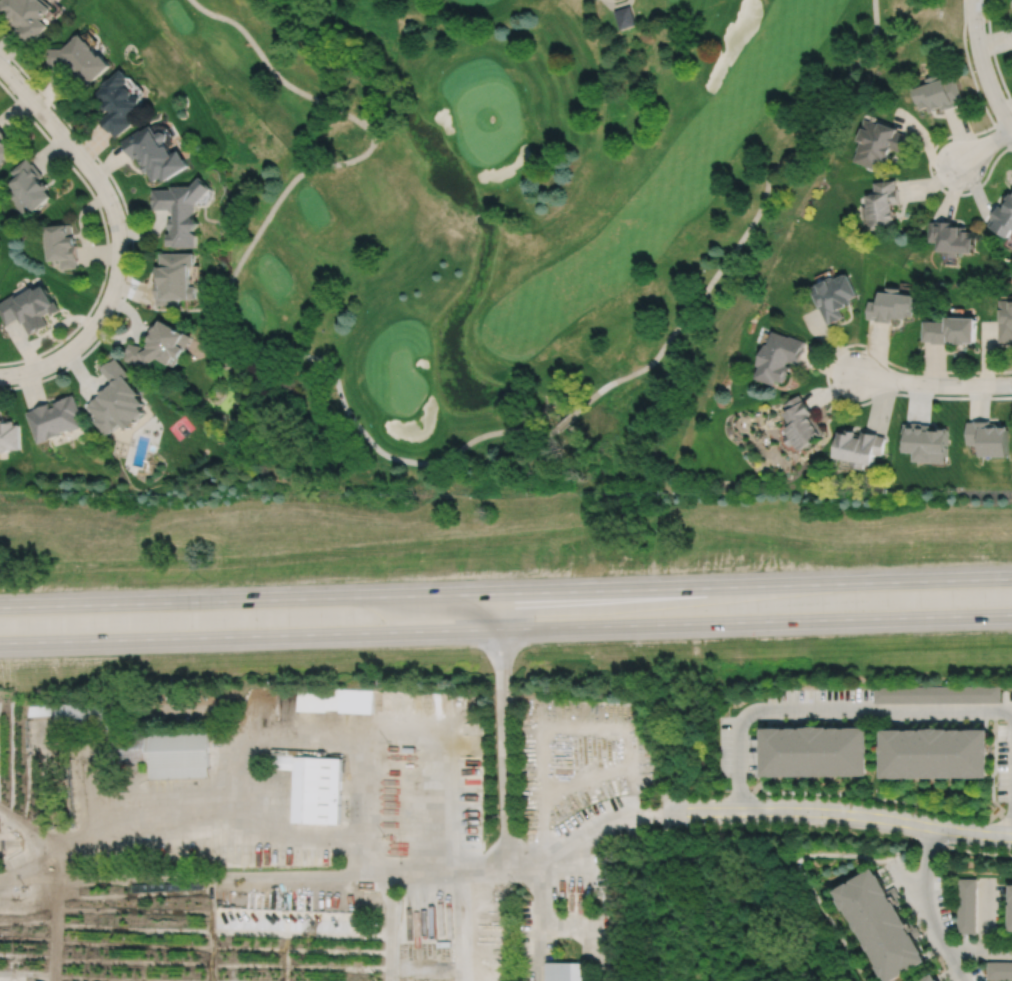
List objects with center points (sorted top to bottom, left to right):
building: (27, 16)
building: (625, 17)
street lamp: (985, 25)
road: (993, 54)
building: (78, 57)
road: (967, 63)
road: (982, 66)
building: (936, 92)
building: (117, 102)
road: (398, 104)
street lamp: (988, 132)
building: (876, 143)
building: (6, 144)
road: (986, 145)
building: (154, 153)
building: (29, 185)
building: (879, 205)
building: (181, 210)
road: (480, 212)
building: (1002, 217)
park: (505, 222)
road: (750, 224)
road: (130, 232)
road: (117, 233)
road: (105, 234)
building: (950, 237)
building: (61, 245)
building: (174, 278)
road: (230, 279)
building: (835, 295)
building: (891, 305)
building: (29, 308)
building: (1004, 320)
building: (949, 330)
building: (161, 346)
building: (780, 357)
road: (934, 384)
street lamp: (900, 391)
building: (117, 401)
building: (55, 419)
road: (564, 421)
building: (803, 423)
building: (9, 435)
building: (988, 438)
building: (924, 443)
building: (860, 447)
road: (506, 592)
road: (506, 628)
building: (936, 693)
building: (318, 700)
road: (1010, 710)
road: (886, 711)
building: (78, 716)
road: (1011, 738)
building: (137, 748)
building: (816, 752)
road: (738, 753)
building: (178, 754)
building: (938, 754)
building: (282, 762)
road: (1010, 773)
building: (317, 789)
road: (839, 813)
road: (247, 876)
road: (915, 895)
building: (966, 905)
road: (929, 907)
building: (1011, 908)
road: (986, 916)
building: (880, 925)
road: (980, 951)
building: (999, 969)
building: (566, 971)
building: (930, 978)
building: (38, 980)

